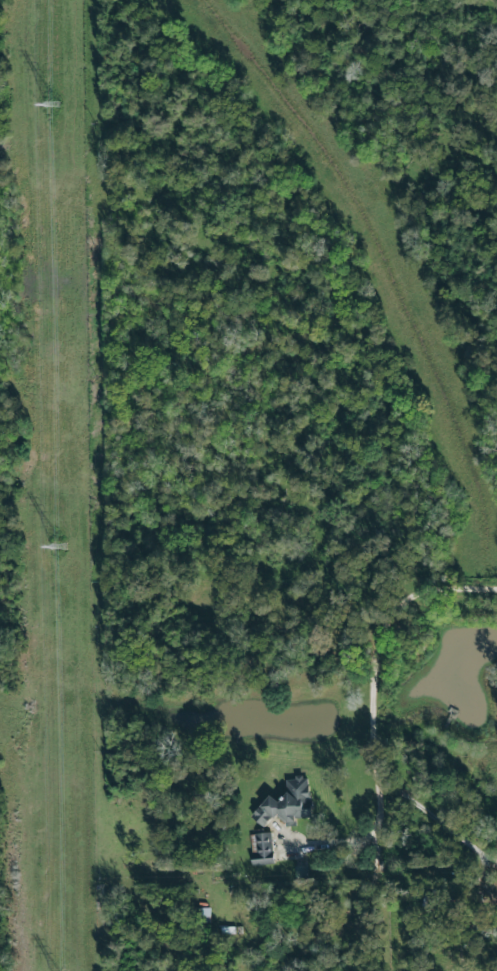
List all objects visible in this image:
power tower: (54, 106)
power tower: (59, 551)
road: (373, 711)
road: (365, 844)
building: (261, 850)

